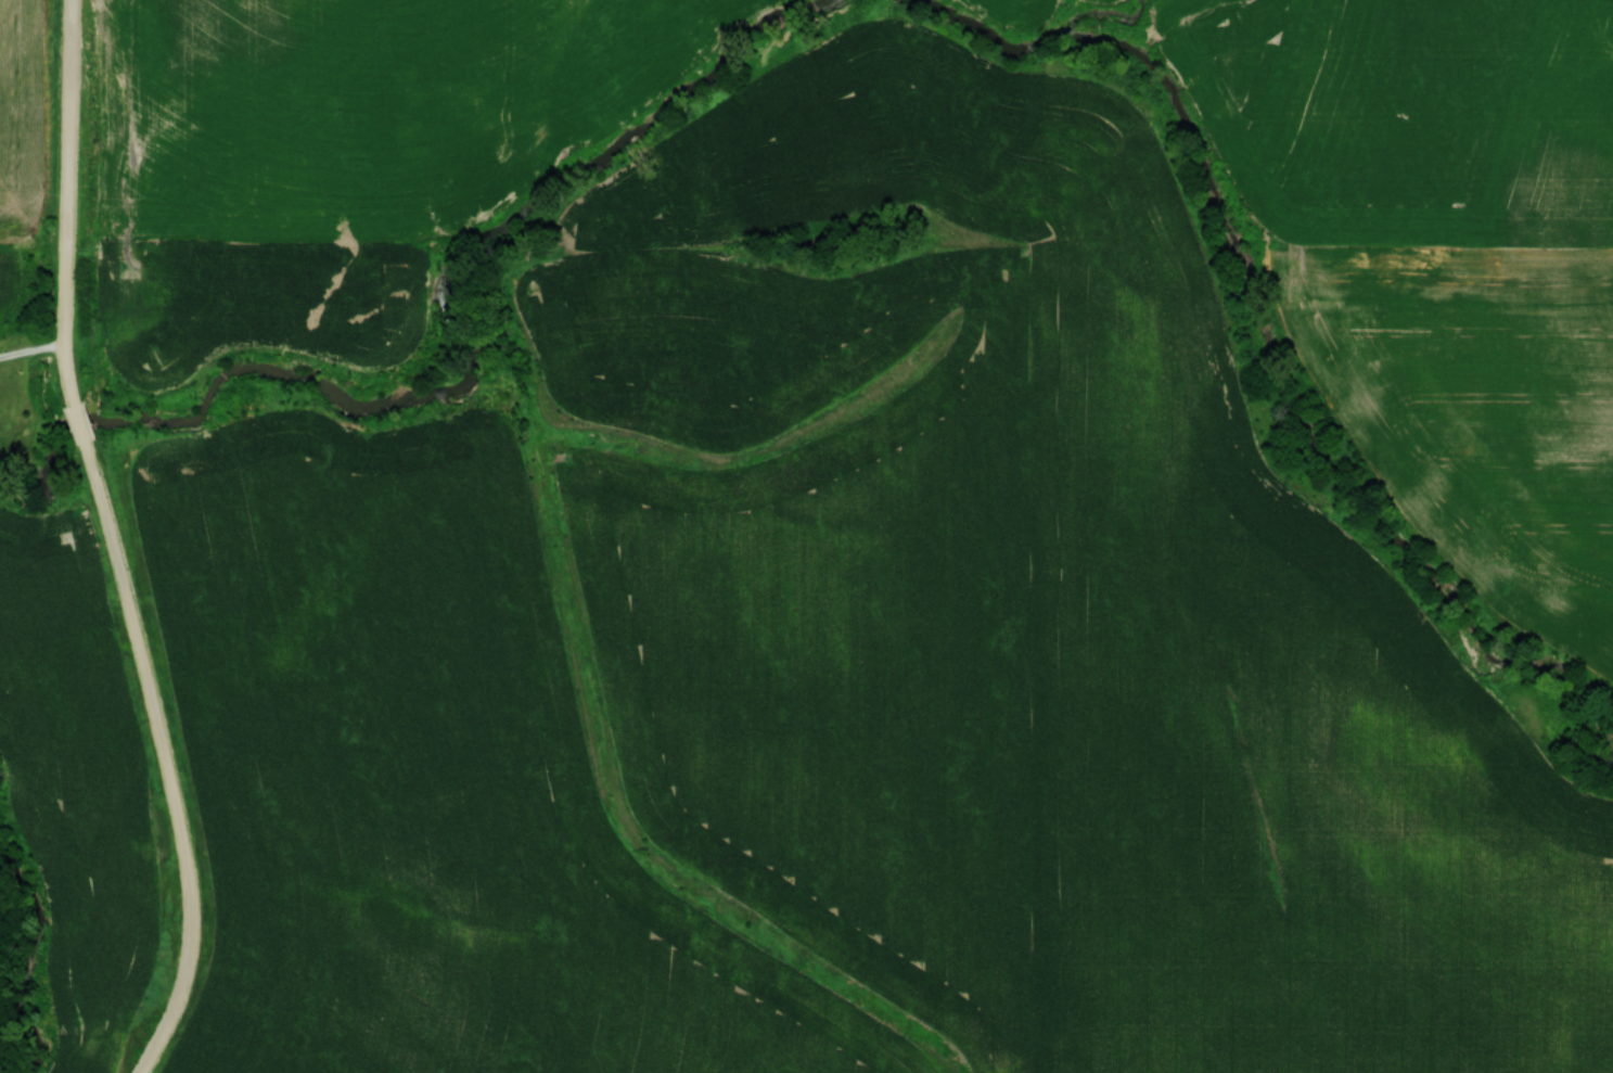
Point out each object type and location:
road: (72, 201)
road: (30, 350)
road: (77, 421)
road: (169, 757)

